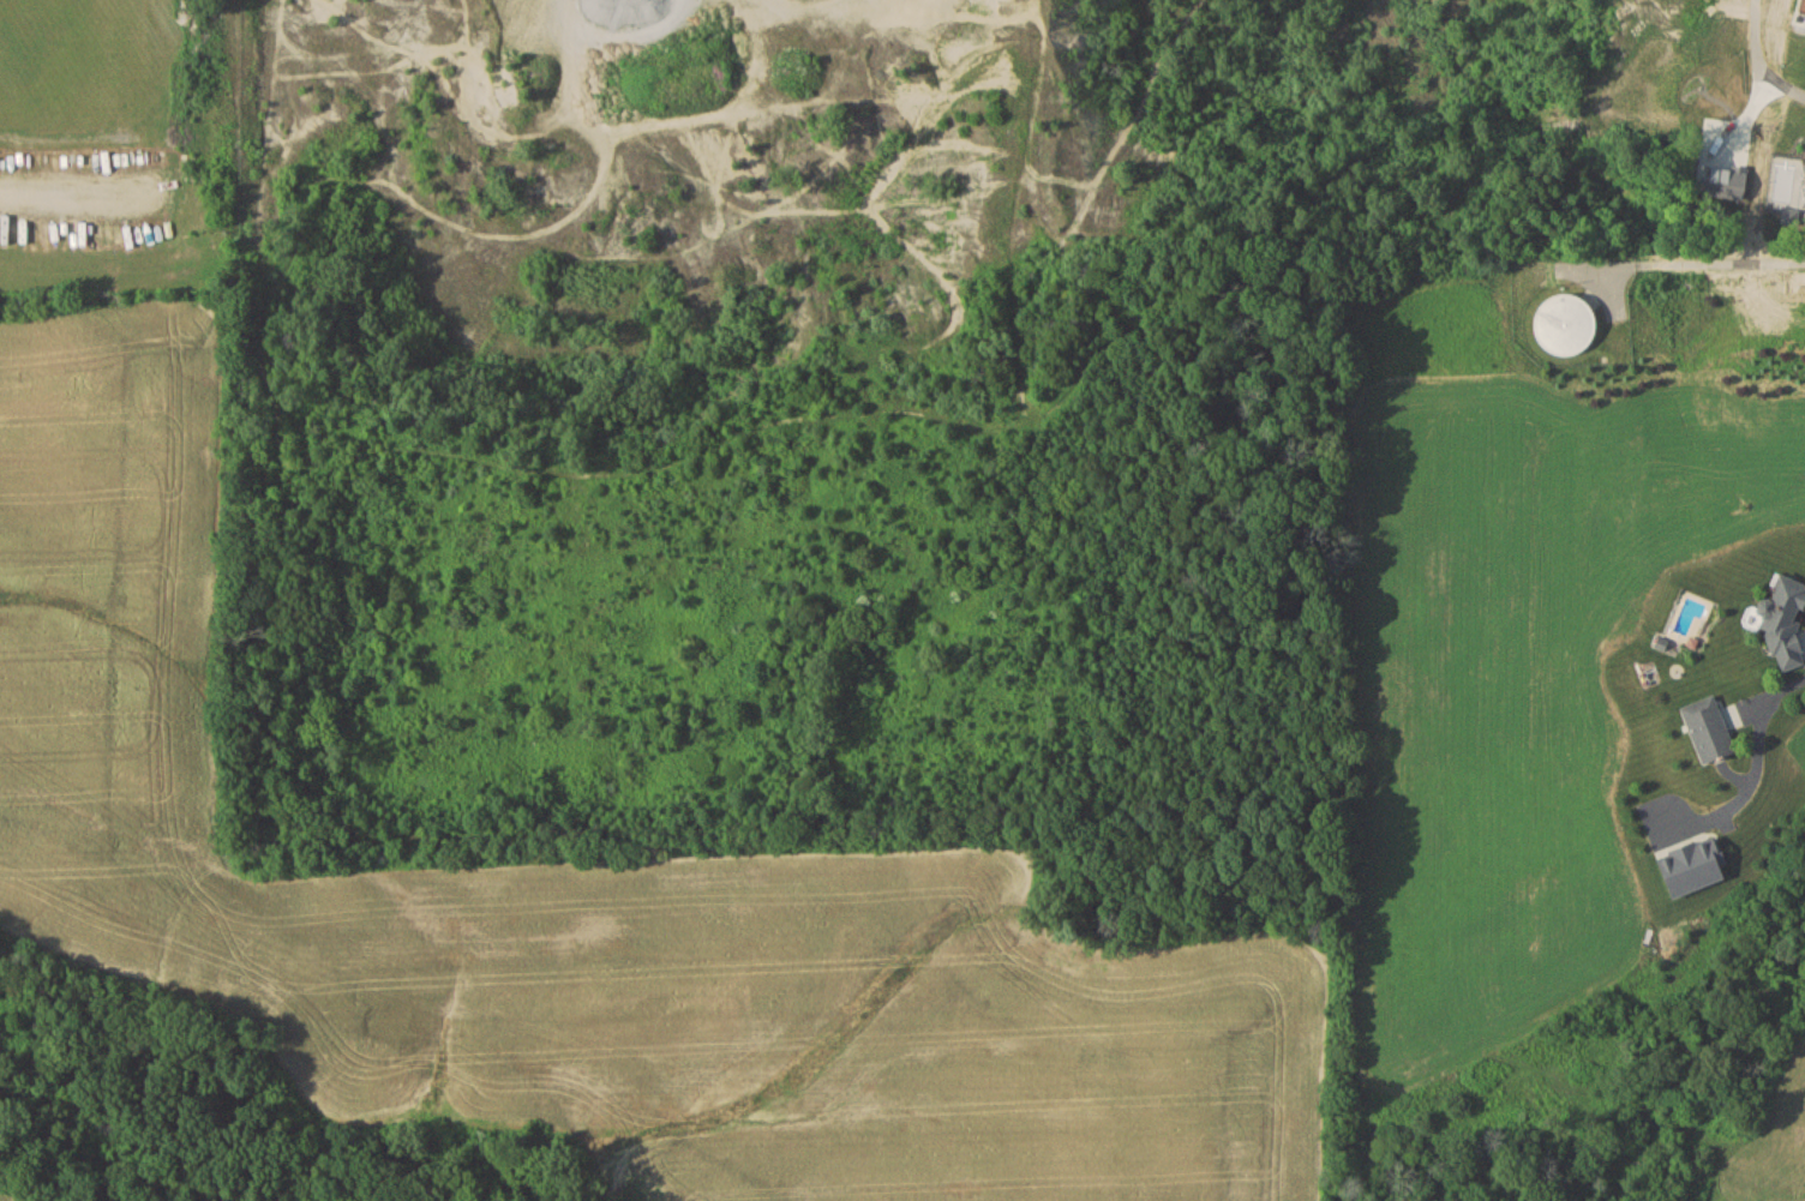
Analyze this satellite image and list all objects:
building: (1803, 8)
road: (1758, 52)
road: (80, 193)
building: (1561, 324)
building: (1780, 621)
building: (1705, 729)
road: (1757, 763)
building: (1689, 867)

